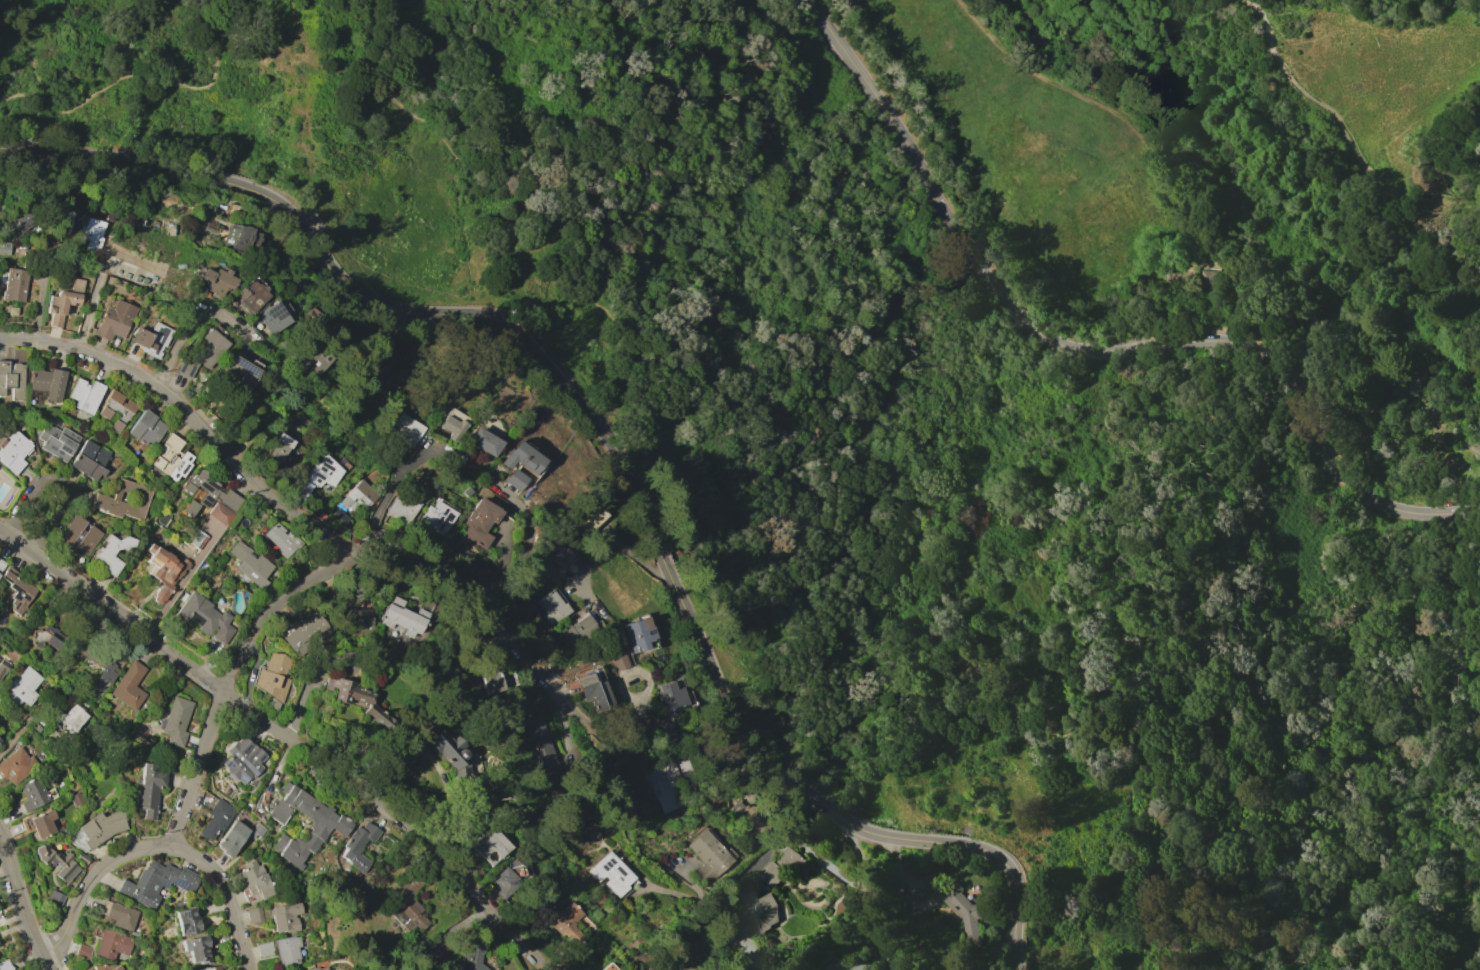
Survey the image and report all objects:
road: (34, 59)
road: (141, 79)
road: (1123, 109)
road: (1358, 156)
building: (64, 219)
building: (90, 234)
building: (226, 236)
building: (4, 248)
building: (1209, 278)
building: (217, 279)
building: (15, 284)
building: (250, 295)
building: (63, 301)
road: (91, 306)
building: (12, 310)
building: (274, 316)
road: (1193, 316)
building: (114, 320)
road: (1346, 321)
road: (197, 331)
building: (151, 339)
road: (1091, 352)
building: (201, 353)
building: (314, 357)
building: (238, 370)
building: (12, 379)
building: (374, 380)
building: (47, 382)
building: (85, 394)
road: (1373, 395)
building: (116, 409)
building: (452, 424)
building: (147, 428)
building: (406, 429)
building: (57, 441)
building: (482, 441)
building: (278, 449)
road: (618, 450)
building: (13, 451)
building: (522, 457)
building: (171, 458)
building: (89, 460)
building: (522, 472)
building: (320, 475)
building: (513, 479)
road: (62, 480)
building: (466, 491)
building: (206, 493)
building: (358, 494)
road: (387, 494)
building: (124, 500)
building: (401, 508)
building: (220, 513)
building: (320, 516)
building: (339, 517)
building: (587, 517)
building: (164, 519)
building: (434, 519)
building: (478, 522)
road: (306, 524)
building: (78, 535)
building: (196, 539)
building: (281, 539)
road: (603, 540)
road: (762, 550)
building: (111, 552)
road: (522, 554)
building: (1, 564)
building: (250, 565)
building: (545, 569)
building: (163, 571)
building: (17, 590)
building: (552, 607)
building: (204, 617)
building: (401, 617)
building: (358, 621)
building: (579, 630)
building: (306, 634)
building: (638, 634)
building: (46, 637)
building: (111, 666)
building: (3, 667)
road: (230, 673)
building: (273, 676)
building: (490, 683)
building: (128, 685)
building: (22, 686)
road: (303, 688)
building: (595, 692)
building: (670, 696)
building: (358, 700)
building: (68, 720)
building: (177, 721)
building: (36, 727)
road: (21, 729)
road: (289, 734)
building: (0, 741)
building: (0, 742)
road: (647, 743)
building: (539, 747)
building: (444, 753)
building: (241, 759)
building: (16, 765)
building: (667, 787)
building: (148, 790)
building: (34, 794)
building: (214, 814)
road: (633, 819)
building: (39, 823)
building: (329, 826)
building: (97, 829)
building: (257, 829)
building: (231, 838)
building: (489, 844)
building: (358, 845)
road: (158, 848)
building: (707, 856)
building: (81, 857)
building: (56, 861)
building: (781, 866)
building: (611, 873)
building: (253, 881)
building: (504, 882)
building: (161, 884)
road: (18, 895)
building: (54, 899)
building: (408, 904)
road: (701, 906)
building: (965, 908)
building: (760, 909)
building: (255, 914)
building: (121, 916)
building: (285, 916)
building: (188, 921)
building: (566, 923)
road: (734, 929)
road: (450, 931)
building: (485, 932)
building: (111, 944)
building: (196, 949)
building: (264, 949)
building: (287, 950)
building: (82, 951)
building: (474, 954)
building: (4, 965)
road: (47, 965)
building: (847, 965)
building: (105, 967)
building: (610, 967)
building: (213, 968)
building: (318, 968)
building: (124, 969)

